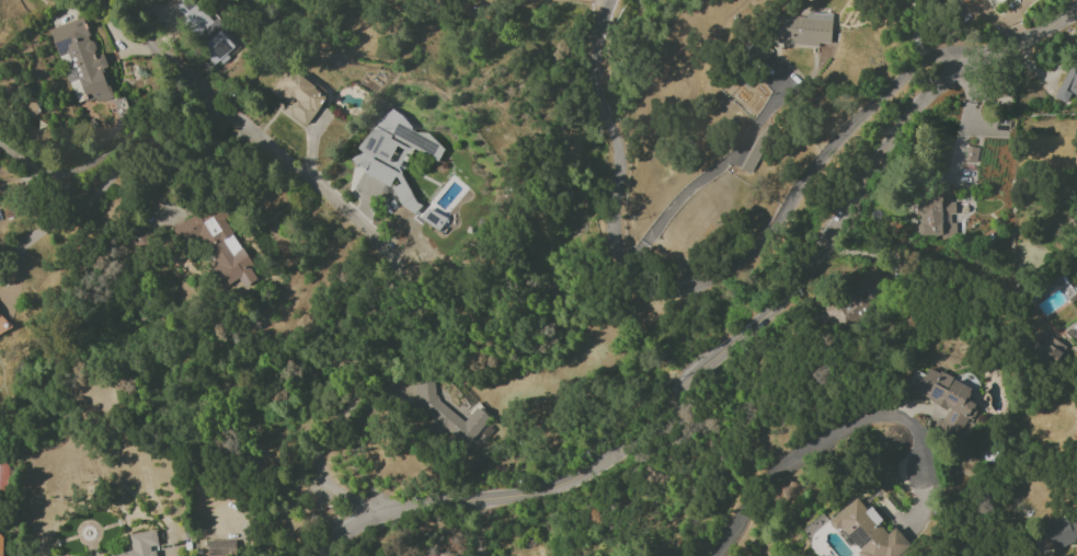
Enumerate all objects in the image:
building: (986, 0)
building: (964, 1)
building: (204, 30)
building: (804, 30)
road: (914, 34)
building: (81, 61)
road: (597, 74)
building: (1068, 81)
building: (298, 96)
road: (964, 127)
building: (971, 154)
road: (105, 158)
building: (398, 162)
road: (193, 169)
road: (137, 171)
road: (713, 171)
building: (935, 217)
road: (357, 227)
road: (759, 230)
building: (217, 245)
building: (859, 299)
road: (736, 338)
building: (1050, 352)
building: (944, 398)
building: (447, 416)
road: (824, 438)
road: (479, 528)
building: (864, 530)
building: (1062, 531)
building: (140, 544)
building: (0, 545)
building: (220, 547)

